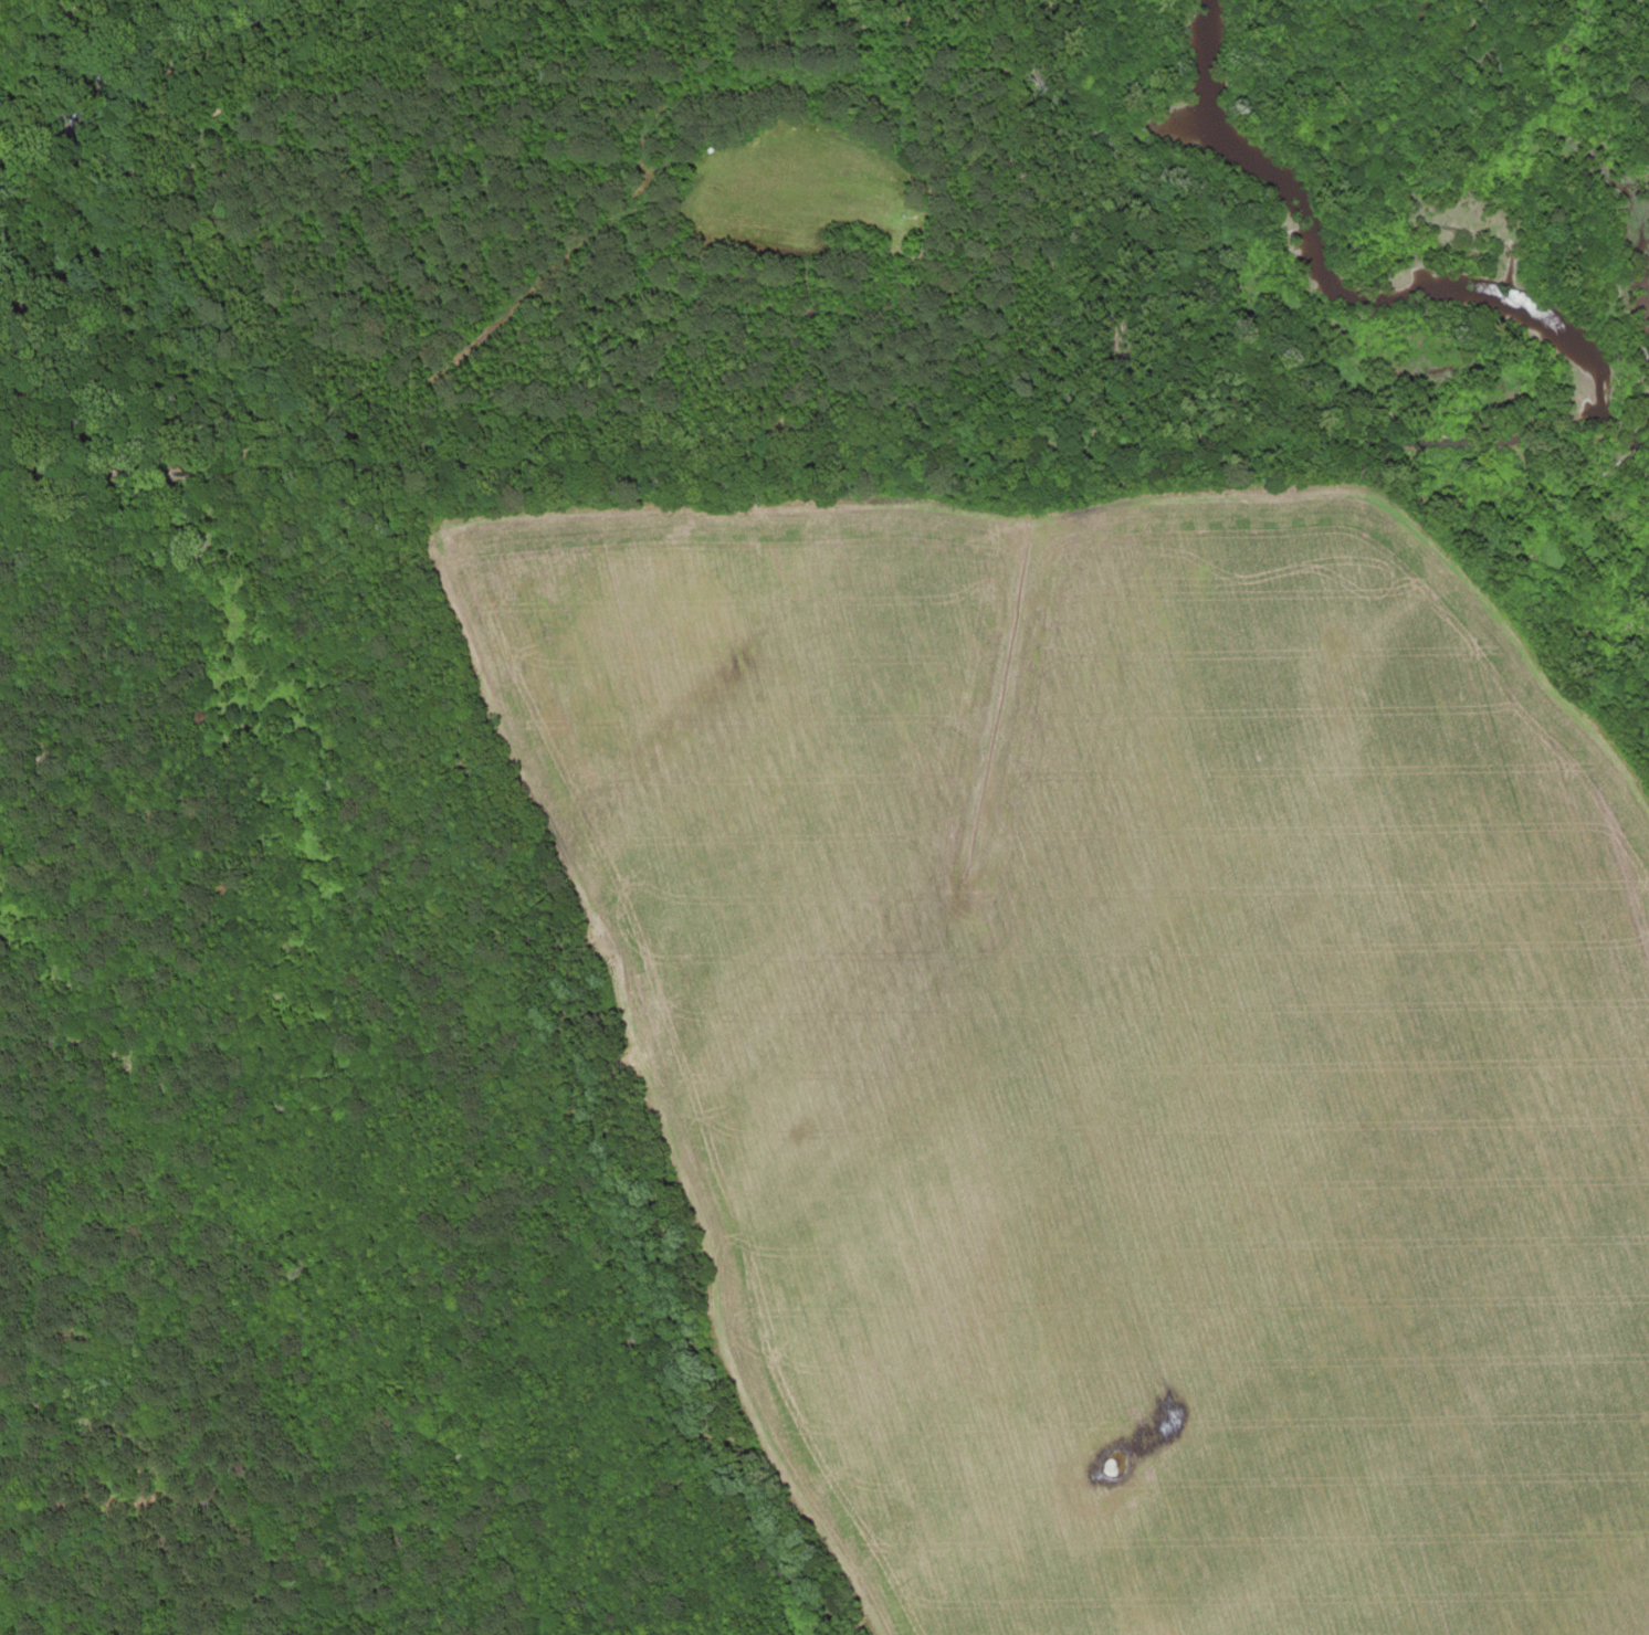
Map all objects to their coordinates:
crop: (1143, 1036)

